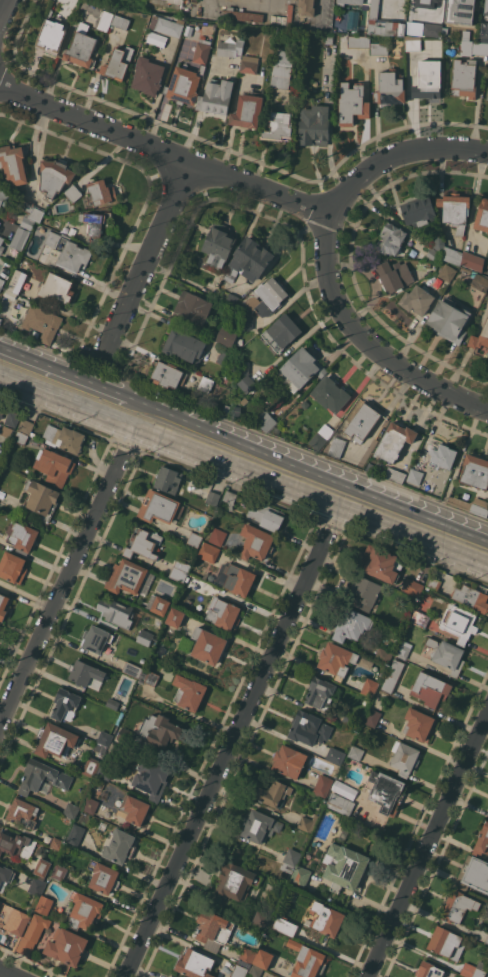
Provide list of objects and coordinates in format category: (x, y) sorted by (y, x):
building: (176, 1)
building: (349, 2)
building: (427, 3)
building: (307, 7)
building: (486, 10)
building: (461, 11)
building: (242, 14)
building: (105, 20)
building: (121, 21)
building: (383, 23)
building: (166, 25)
building: (433, 29)
building: (52, 35)
building: (155, 38)
building: (329, 38)
building: (359, 41)
building: (413, 44)
building: (472, 45)
building: (83, 48)
building: (379, 48)
building: (230, 49)
building: (202, 52)
building: (117, 63)
building: (249, 64)
building: (282, 69)
building: (148, 75)
building: (464, 78)
building: (428, 79)
building: (185, 84)
building: (390, 88)
building: (216, 97)
building: (487, 97)
building: (353, 103)
building: (247, 111)
building: (279, 124)
building: (315, 124)
building: (13, 165)
building: (55, 175)
road: (250, 182)
building: (0, 183)
building: (102, 192)
building: (72, 193)
building: (3, 196)
building: (455, 210)
building: (418, 211)
building: (30, 213)
building: (482, 216)
building: (0, 222)
building: (95, 224)
building: (72, 231)
building: (19, 238)
building: (390, 239)
building: (1, 245)
building: (218, 246)
building: (436, 250)
building: (69, 251)
building: (452, 255)
road: (150, 258)
building: (249, 260)
building: (473, 261)
building: (422, 265)
building: (447, 272)
building: (395, 275)
building: (17, 281)
building: (1, 282)
building: (480, 282)
building: (57, 287)
building: (267, 297)
building: (417, 299)
building: (232, 300)
building: (193, 307)
building: (449, 320)
building: (246, 321)
building: (42, 322)
building: (282, 332)
building: (35, 333)
building: (225, 335)
building: (480, 337)
road: (367, 340)
building: (240, 341)
building: (184, 347)
building: (226, 356)
building: (242, 367)
building: (301, 369)
road: (67, 371)
building: (168, 374)
building: (247, 383)
building: (205, 384)
building: (331, 394)
building: (273, 396)
building: (304, 403)
road: (66, 404)
building: (2, 408)
building: (227, 409)
building: (238, 411)
building: (12, 418)
building: (265, 420)
building: (362, 422)
building: (26, 426)
building: (275, 429)
building: (6, 431)
building: (321, 436)
building: (21, 437)
building: (65, 438)
road: (130, 438)
building: (395, 440)
building: (337, 447)
building: (444, 456)
building: (54, 466)
road: (310, 467)
road: (235, 470)
building: (475, 471)
building: (395, 475)
building: (415, 476)
building: (168, 480)
building: (213, 498)
building: (230, 498)
building: (42, 499)
building: (472, 505)
building: (158, 507)
building: (264, 516)
road: (334, 516)
building: (22, 535)
building: (218, 536)
road: (412, 538)
building: (195, 539)
building: (256, 542)
building: (144, 544)
building: (209, 552)
building: (379, 563)
building: (13, 567)
building: (180, 571)
building: (126, 576)
building: (234, 578)
building: (433, 583)
road: (63, 586)
building: (413, 587)
building: (365, 592)
building: (471, 597)
building: (3, 605)
building: (160, 605)
building: (117, 612)
building: (223, 613)
building: (175, 617)
building: (420, 619)
building: (461, 623)
building: (352, 624)
building: (145, 637)
building: (96, 638)
building: (208, 645)
building: (403, 649)
building: (383, 655)
building: (447, 655)
building: (337, 660)
building: (365, 662)
building: (133, 670)
building: (85, 672)
building: (393, 675)
building: (149, 677)
building: (370, 687)
building: (430, 689)
building: (189, 691)
building: (321, 692)
building: (65, 702)
building: (112, 702)
building: (372, 717)
building: (350, 722)
building: (418, 724)
building: (309, 728)
building: (159, 730)
building: (124, 735)
building: (104, 737)
building: (55, 740)
building: (100, 747)
road: (228, 750)
building: (356, 752)
building: (335, 755)
building: (404, 757)
building: (289, 761)
building: (91, 766)
building: (105, 771)
building: (42, 776)
building: (151, 778)
building: (323, 786)
building: (386, 792)
building: (273, 793)
building: (340, 803)
building: (90, 805)
building: (134, 809)
building: (71, 810)
building: (23, 812)
building: (307, 822)
building: (260, 826)
building: (75, 835)
building: (482, 841)
building: (56, 843)
building: (16, 844)
building: (119, 846)
road: (429, 848)
building: (291, 860)
building: (42, 867)
building: (345, 867)
building: (59, 872)
building: (473, 874)
building: (5, 876)
building: (103, 876)
building: (300, 876)
building: (235, 880)
building: (37, 886)
building: (44, 904)
building: (458, 906)
building: (84, 911)
building: (261, 919)
building: (326, 919)
building: (17, 921)
building: (280, 923)
building: (213, 928)
building: (33, 933)
building: (486, 940)
building: (446, 943)
building: (67, 946)
building: (247, 957)
building: (263, 958)
building: (307, 960)
building: (195, 963)
building: (474, 969)
building: (255, 970)
building: (429, 970)
building: (239, 971)
road: (5, 974)
building: (487, 975)
building: (168, 976)
building: (171, 976)

